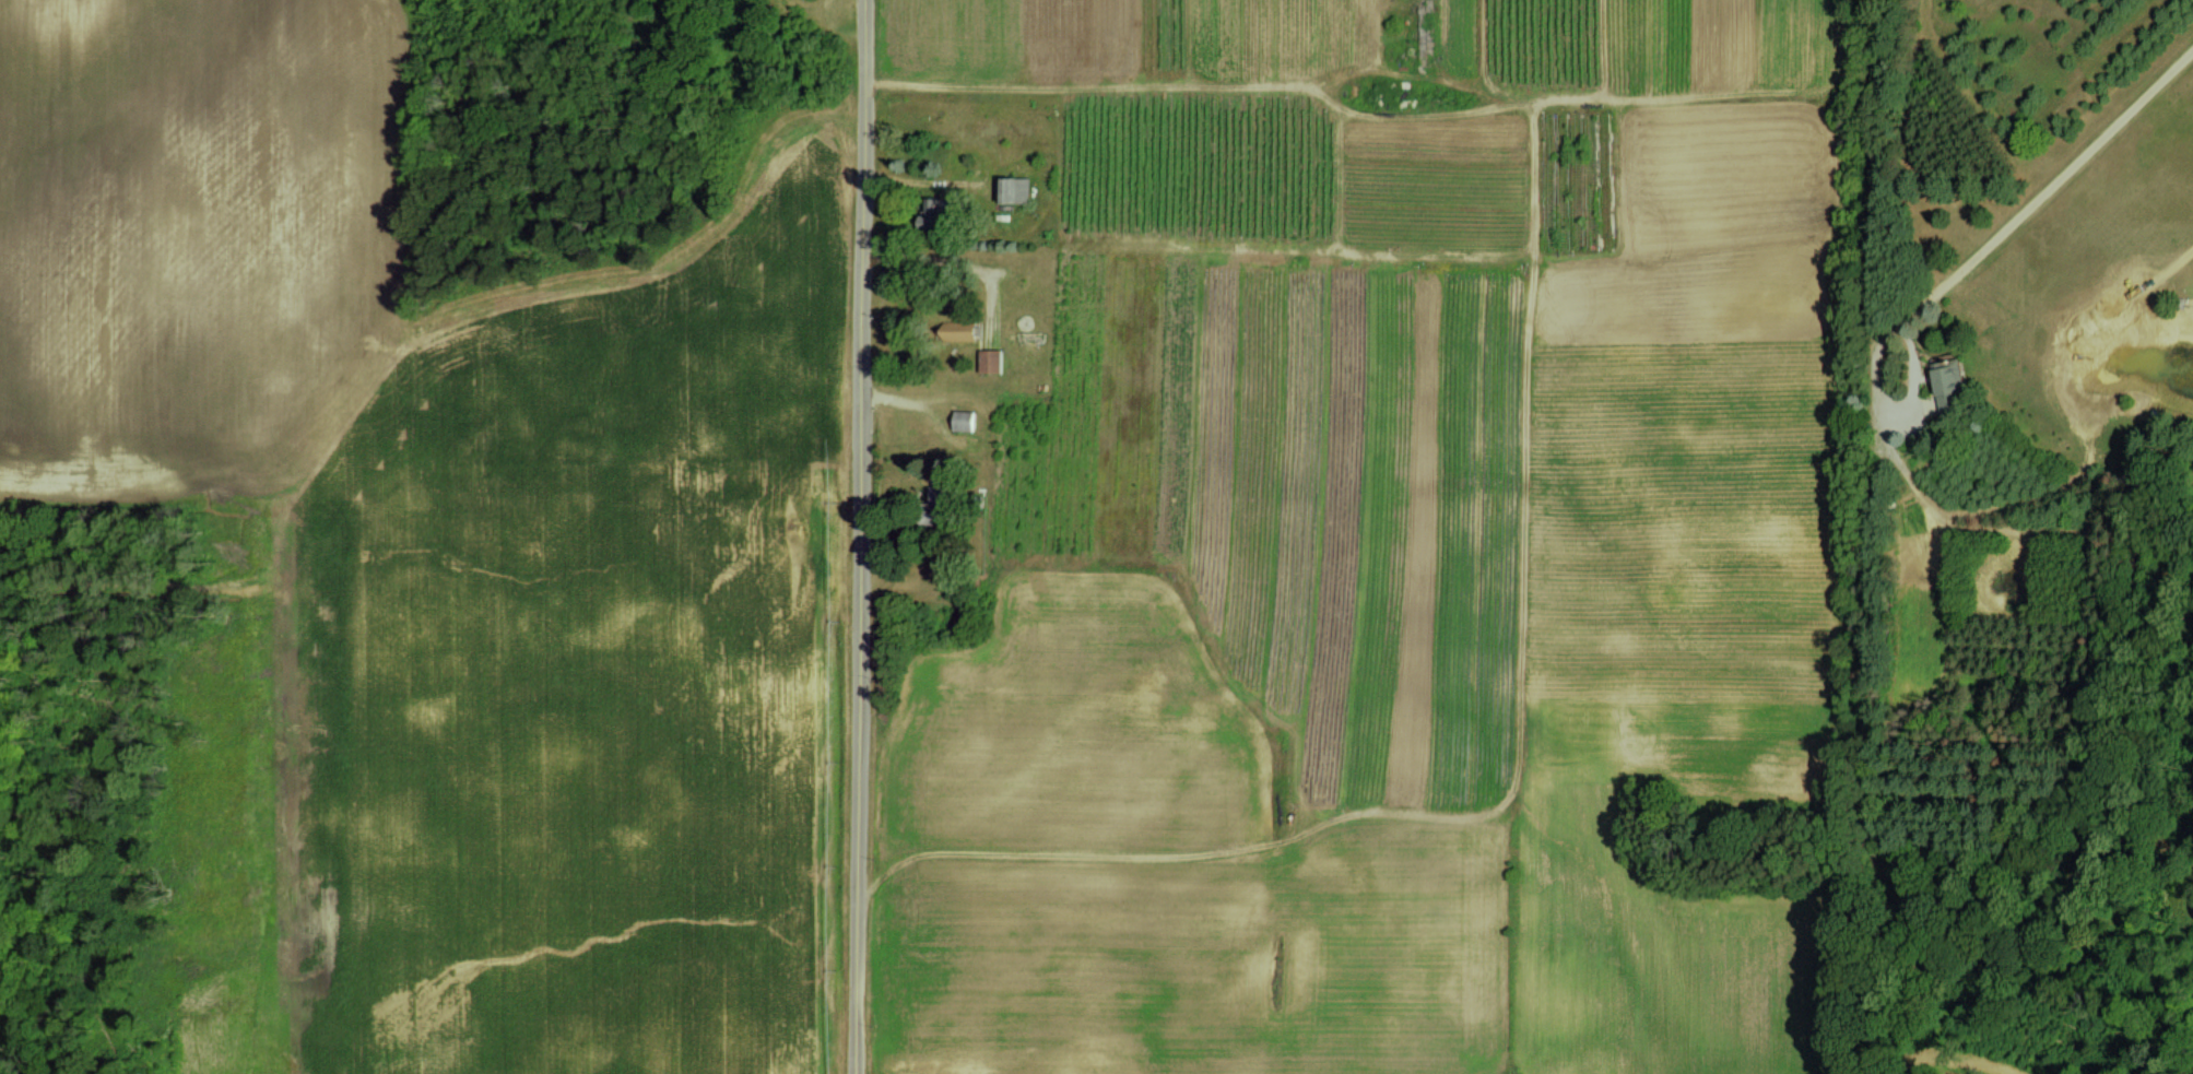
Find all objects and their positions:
building: (1009, 189)
road: (2012, 209)
road: (950, 259)
building: (956, 330)
building: (988, 361)
building: (1946, 383)
building: (962, 421)
road: (862, 536)

